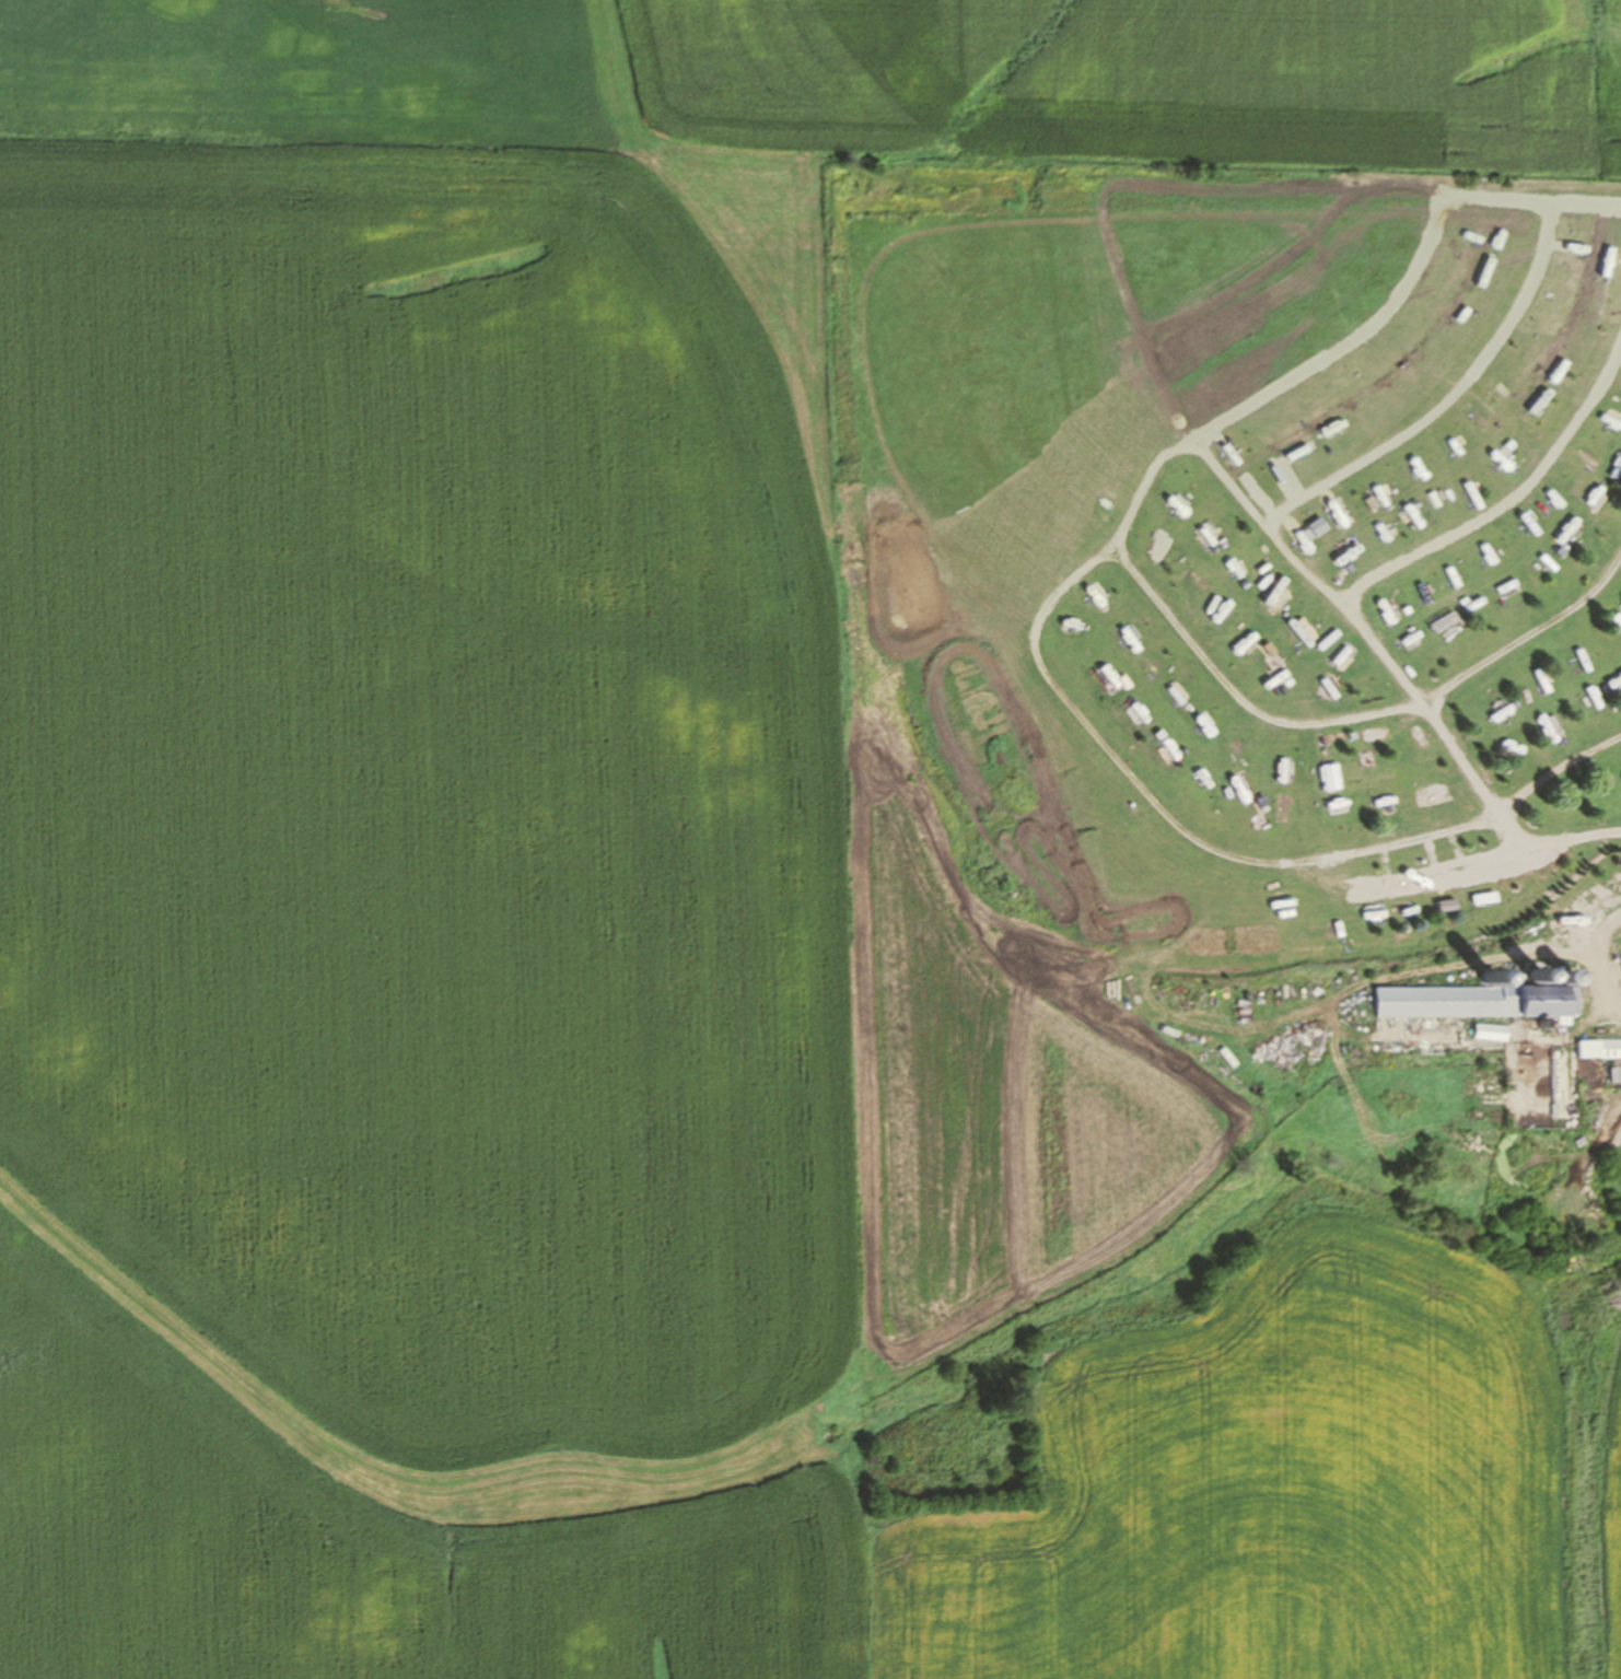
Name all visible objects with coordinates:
road: (1473, 666)
road: (1556, 768)
road: (1554, 842)
road: (1585, 951)
building: (1565, 975)
building: (1489, 976)
building: (1535, 976)
building: (1473, 1000)
building: (1598, 1048)

